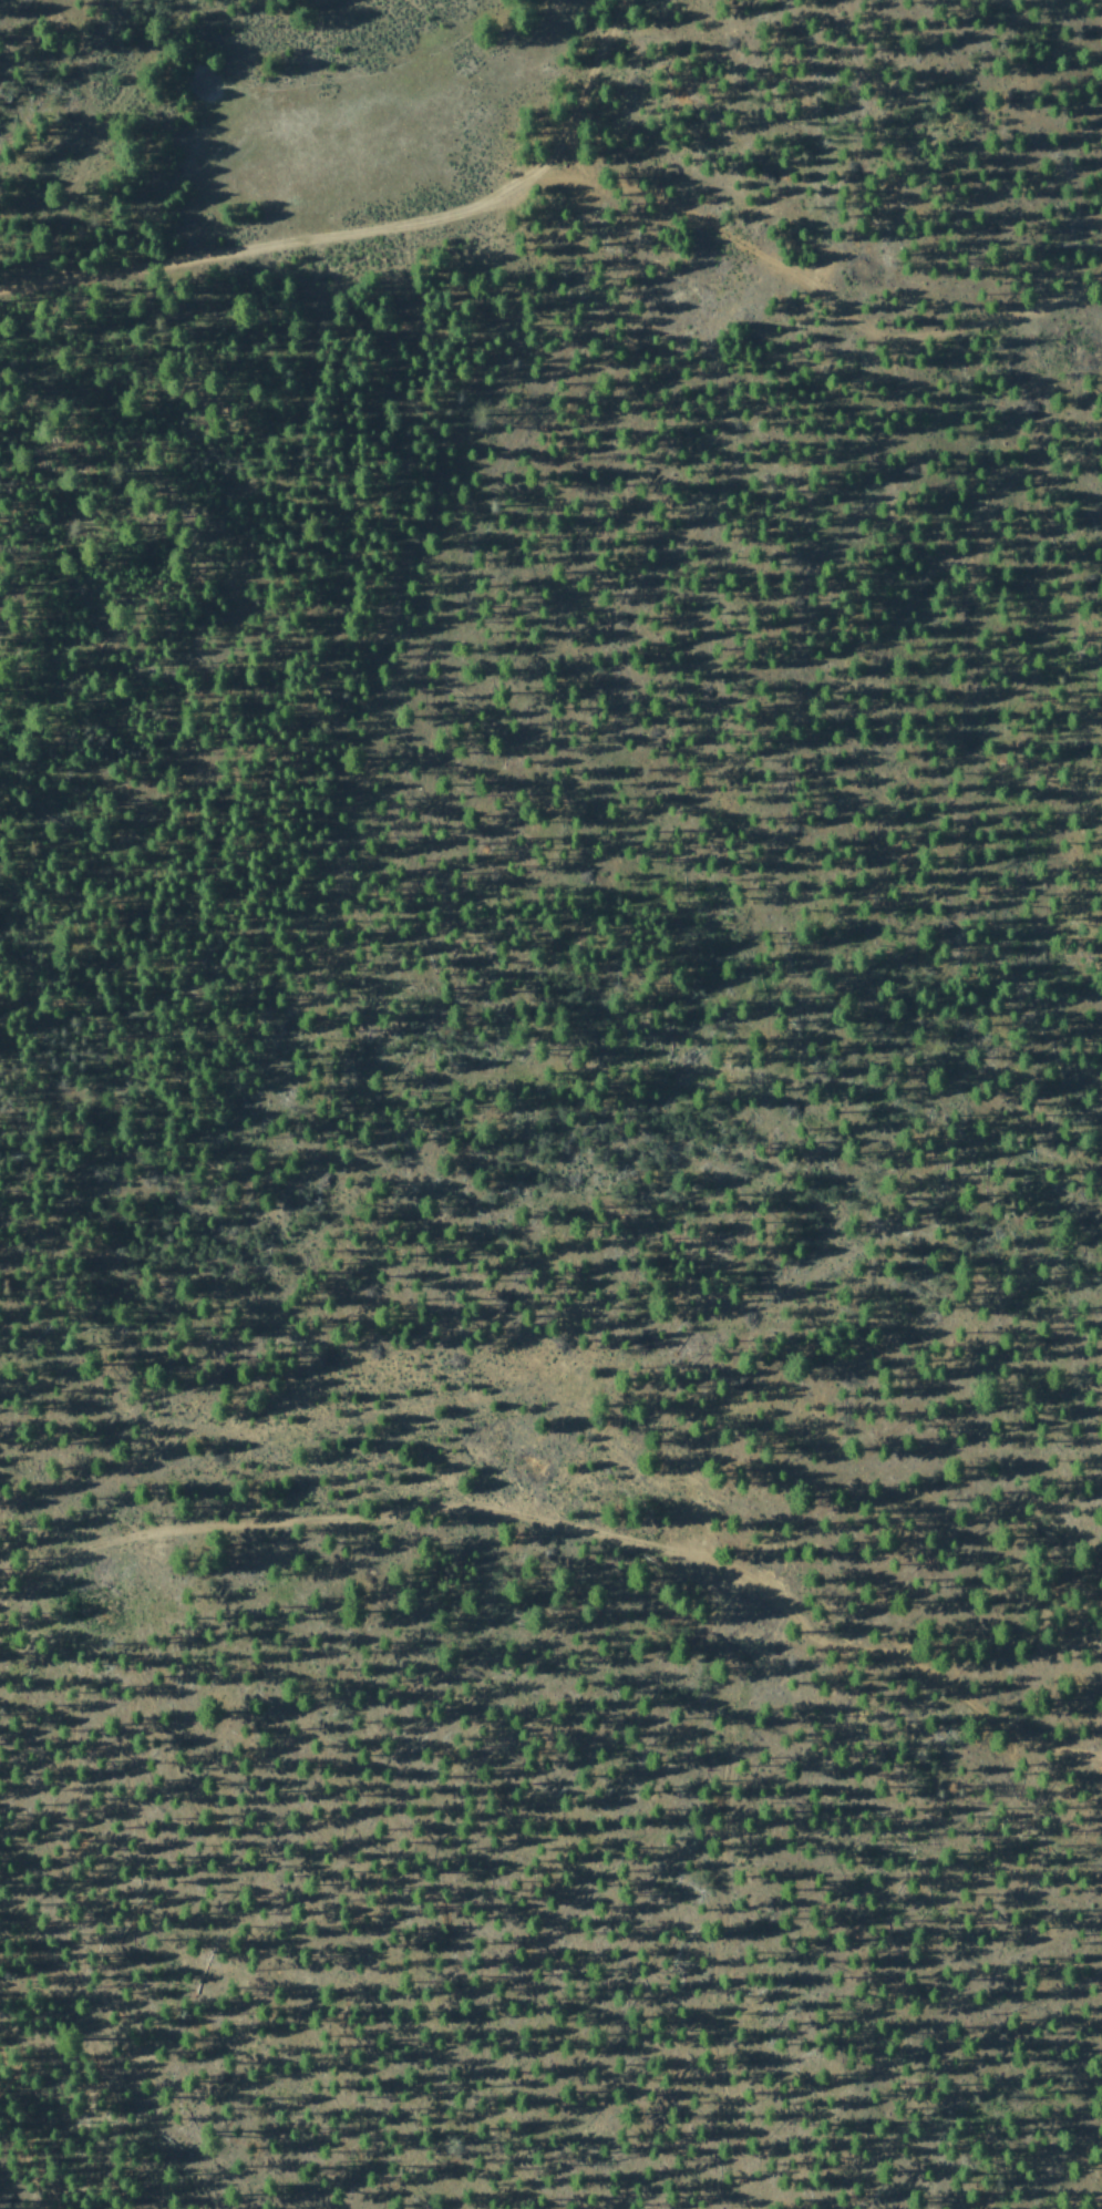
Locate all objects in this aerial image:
road: (256, 181)

